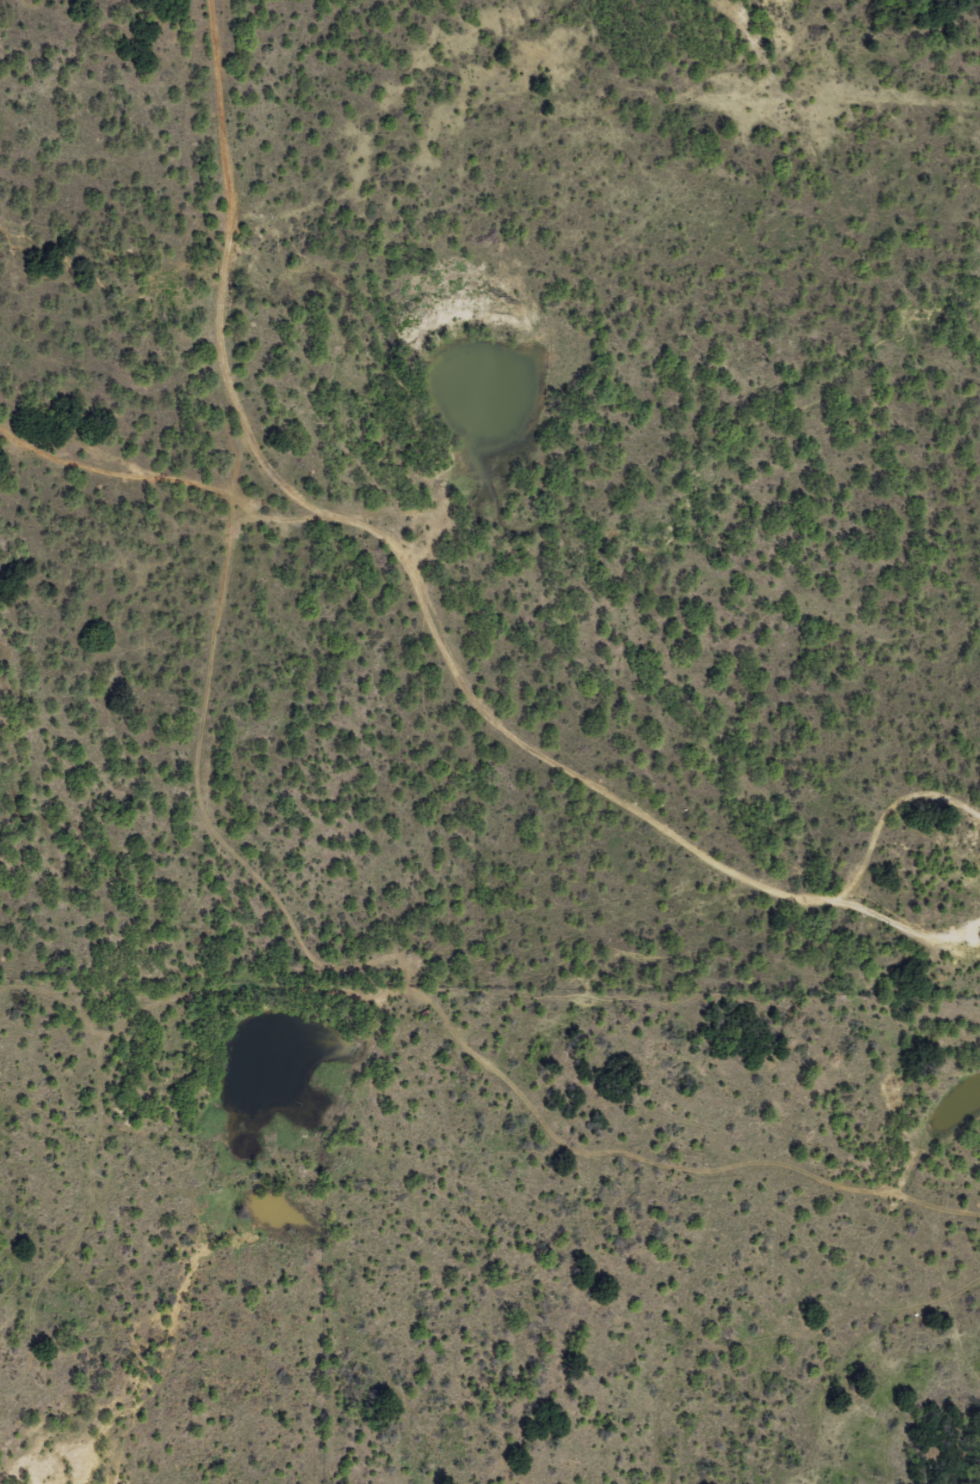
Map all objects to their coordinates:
road: (420, 995)

